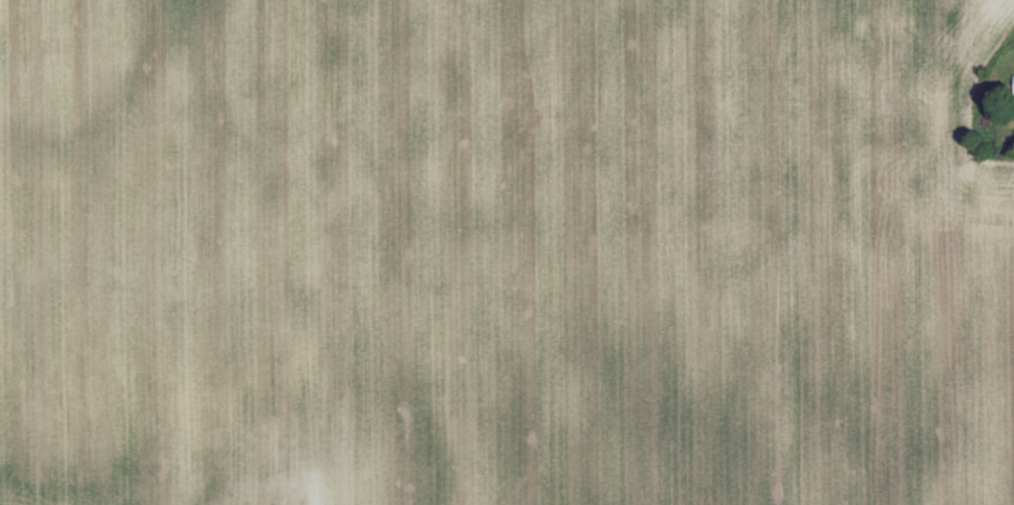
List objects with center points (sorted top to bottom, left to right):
crop: (507, 252)

